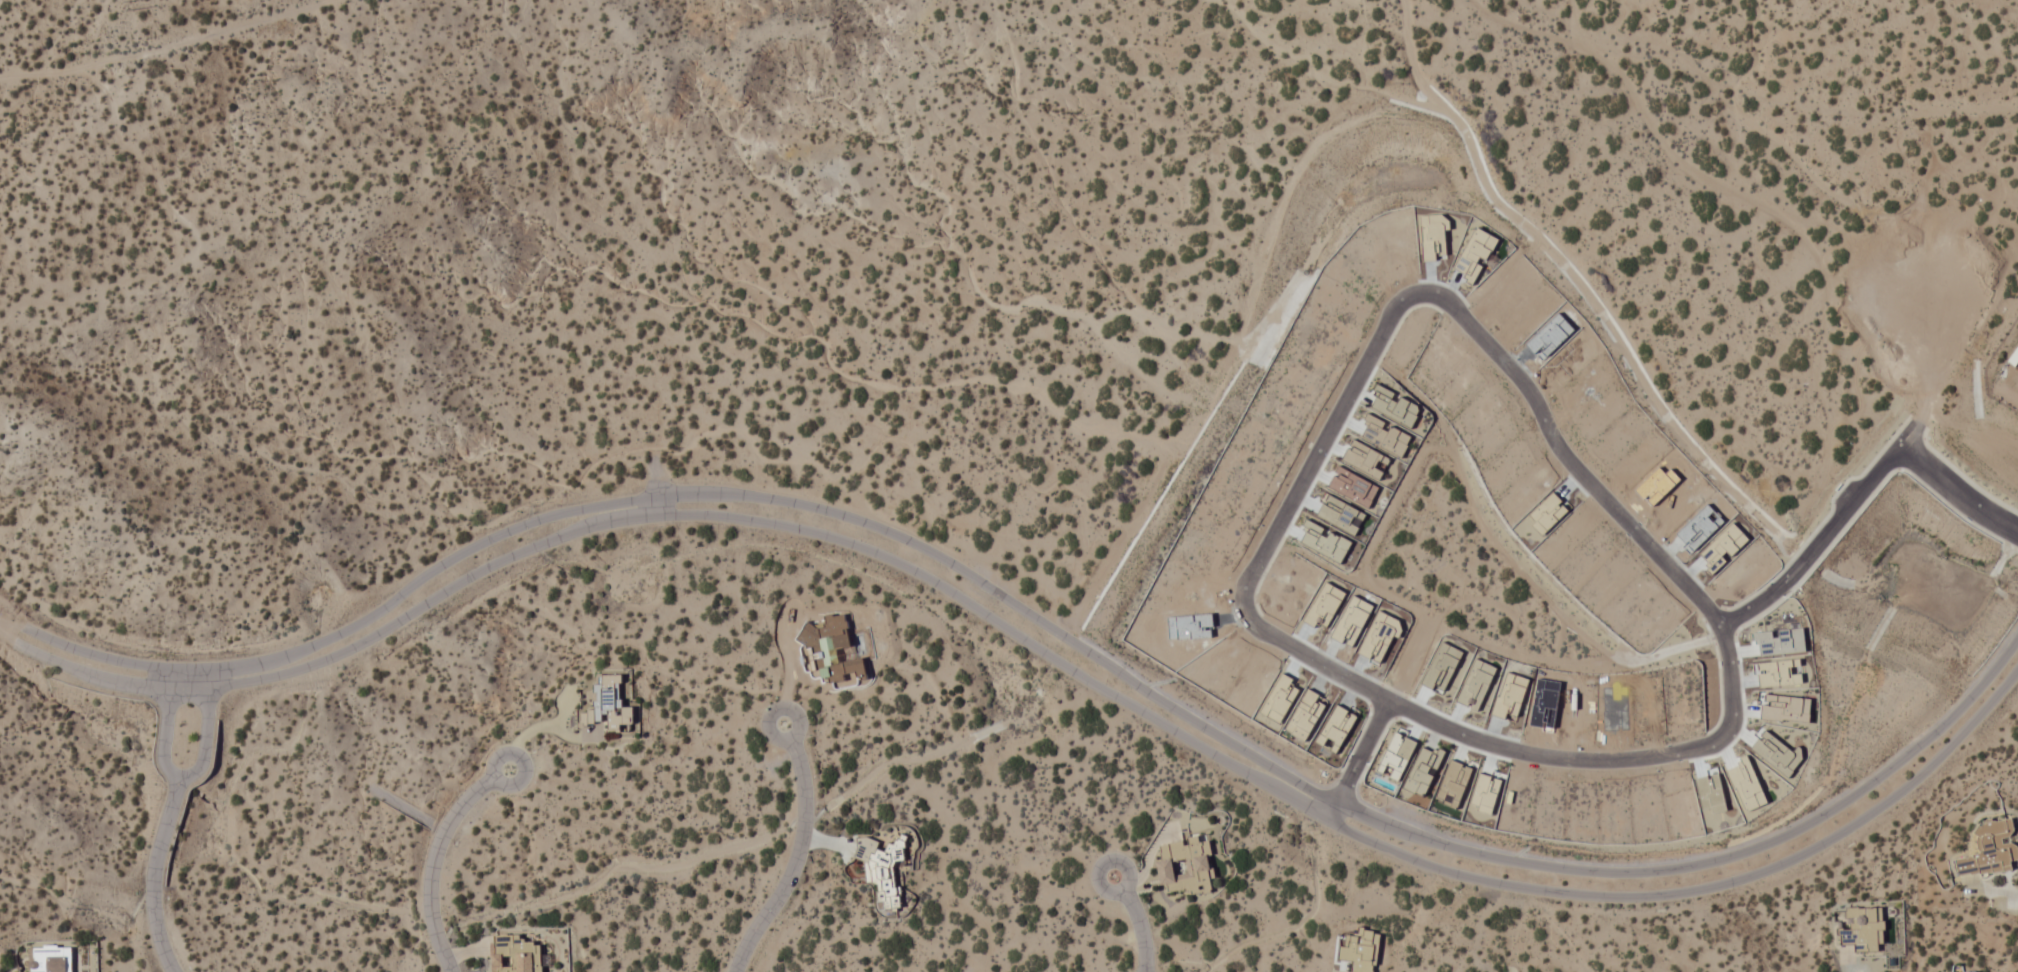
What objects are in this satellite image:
road: (217, 43)
building: (2013, 356)
road: (1956, 491)
road: (1624, 520)
road: (1824, 532)
road: (1041, 623)
road: (1035, 648)
building: (608, 703)
road: (164, 728)
road: (530, 731)
road: (207, 732)
road: (1357, 759)
building: (1990, 849)
road: (796, 853)
road: (430, 855)
building: (1185, 865)
building: (882, 868)
road: (153, 877)
road: (1136, 922)
building: (1862, 928)
building: (514, 954)
building: (49, 958)
building: (1961, 971)

